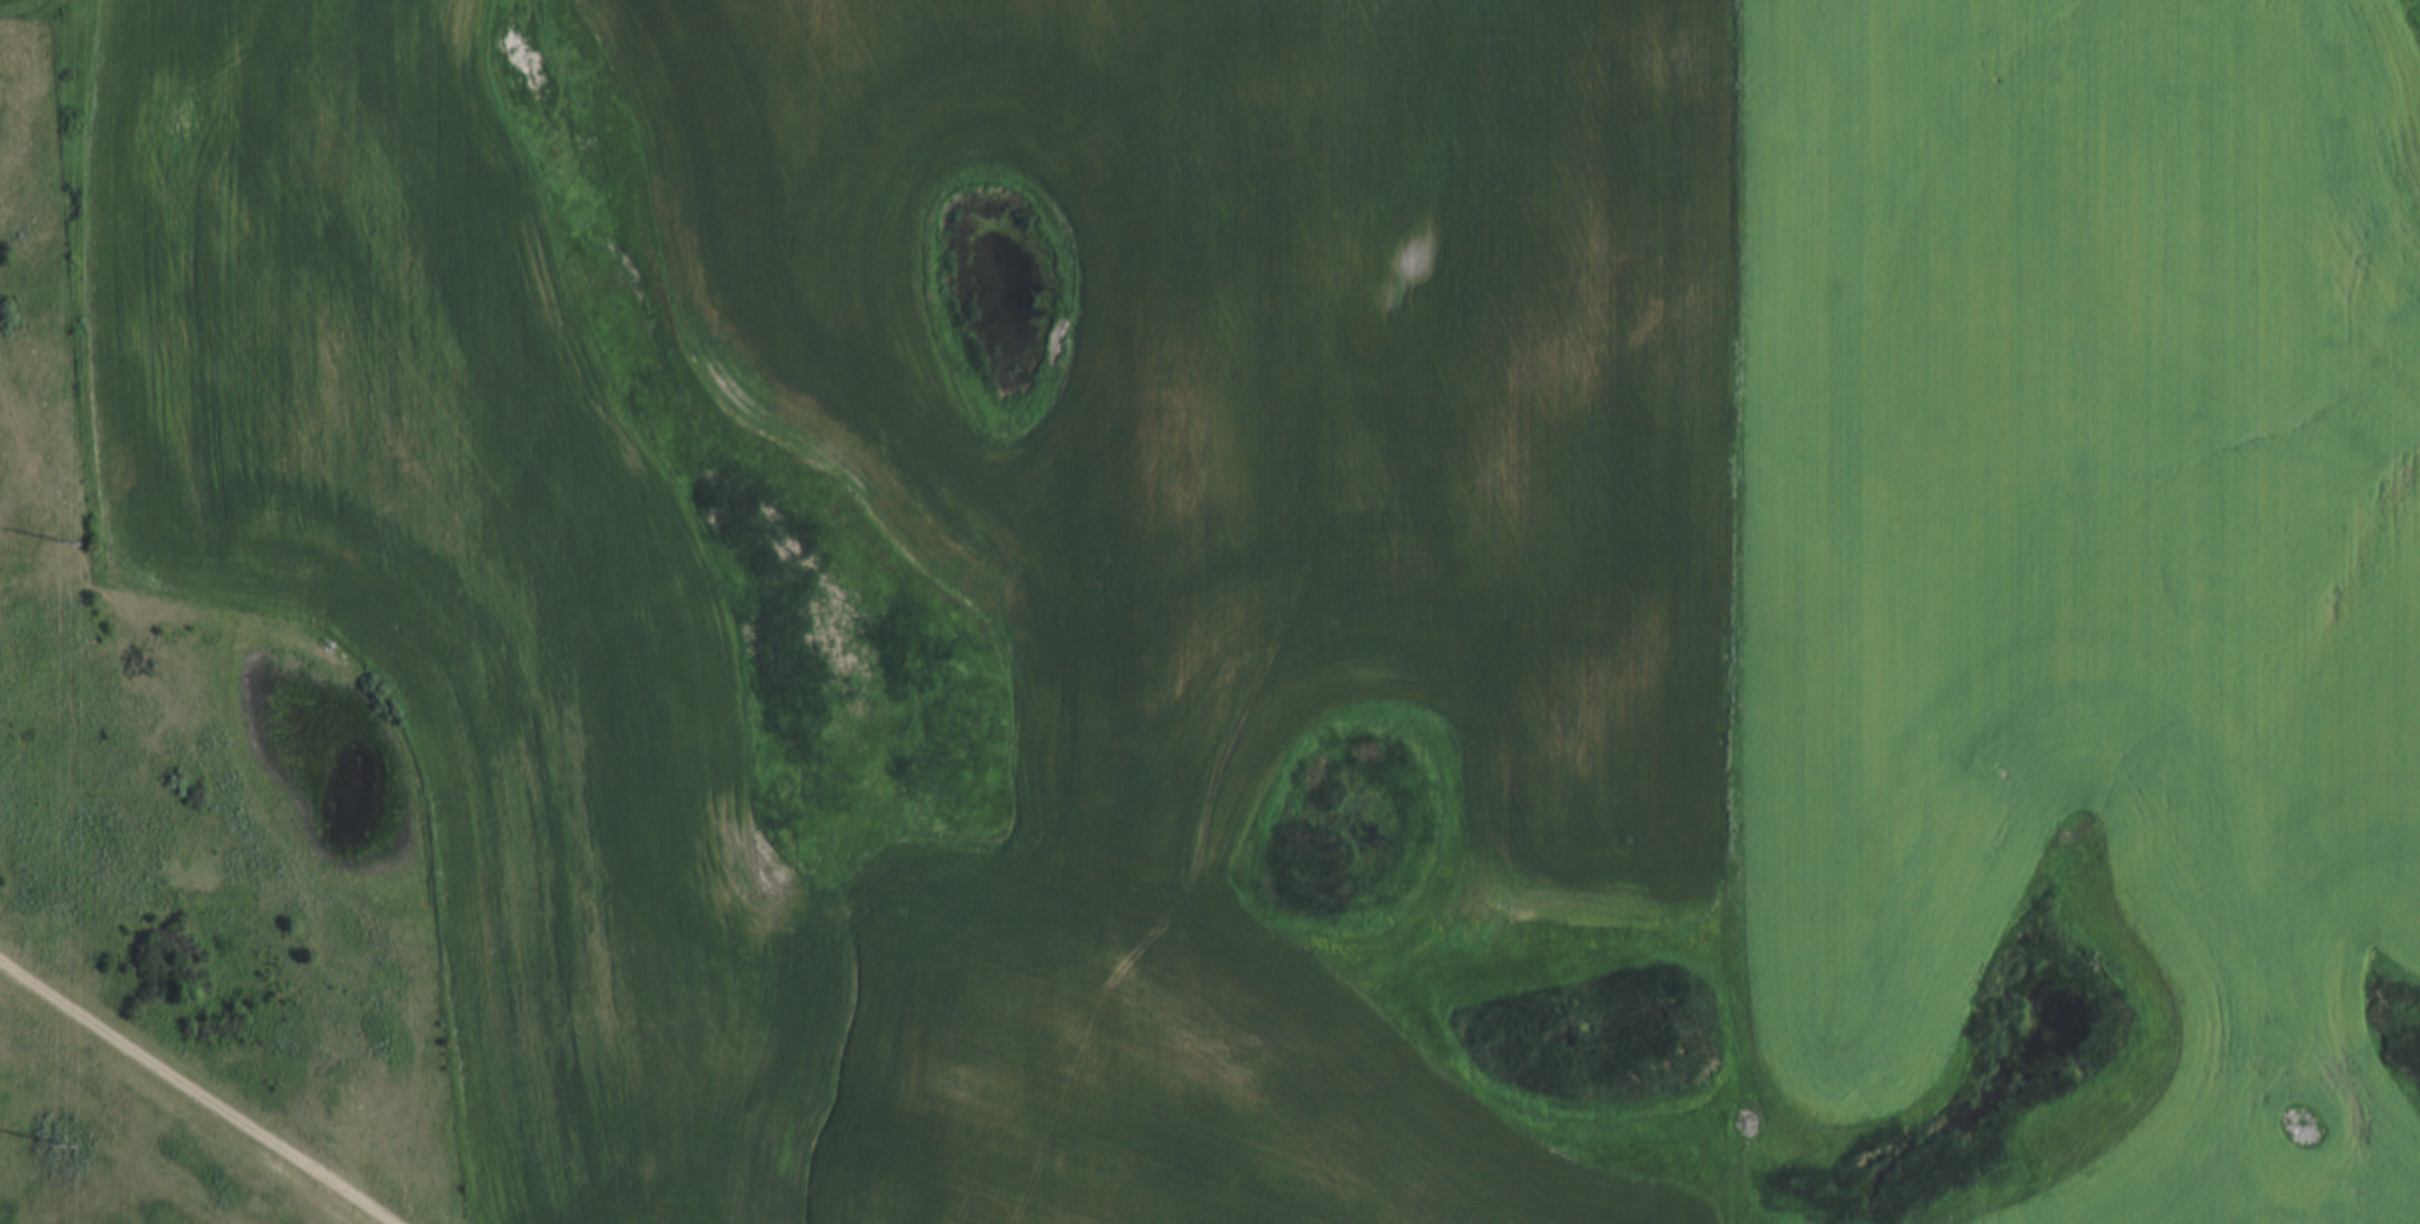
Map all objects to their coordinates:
road: (204, 1091)

